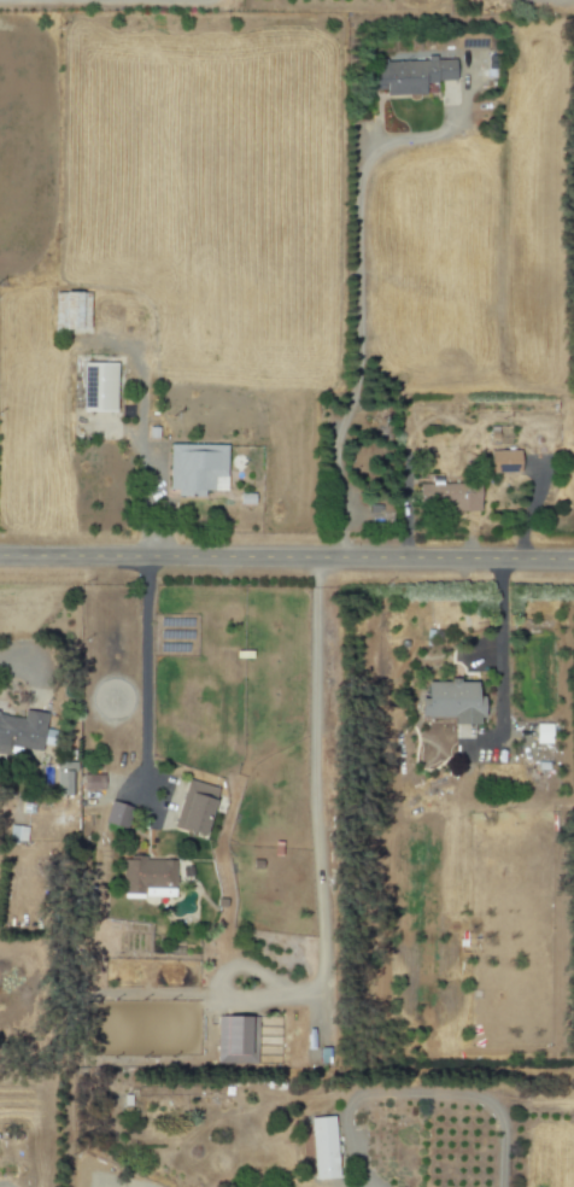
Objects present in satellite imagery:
road: (558, 0)
road: (175, 1)
building: (408, 74)
road: (357, 277)
building: (96, 386)
building: (502, 461)
building: (193, 467)
building: (446, 495)
road: (146, 504)
road: (529, 508)
road: (287, 556)
road: (499, 645)
road: (12, 663)
road: (143, 684)
building: (449, 701)
building: (20, 730)
building: (541, 733)
building: (63, 778)
building: (90, 782)
road: (318, 785)
building: (194, 807)
building: (115, 814)
building: (84, 906)
building: (238, 1041)
road: (415, 1093)
building: (321, 1147)

